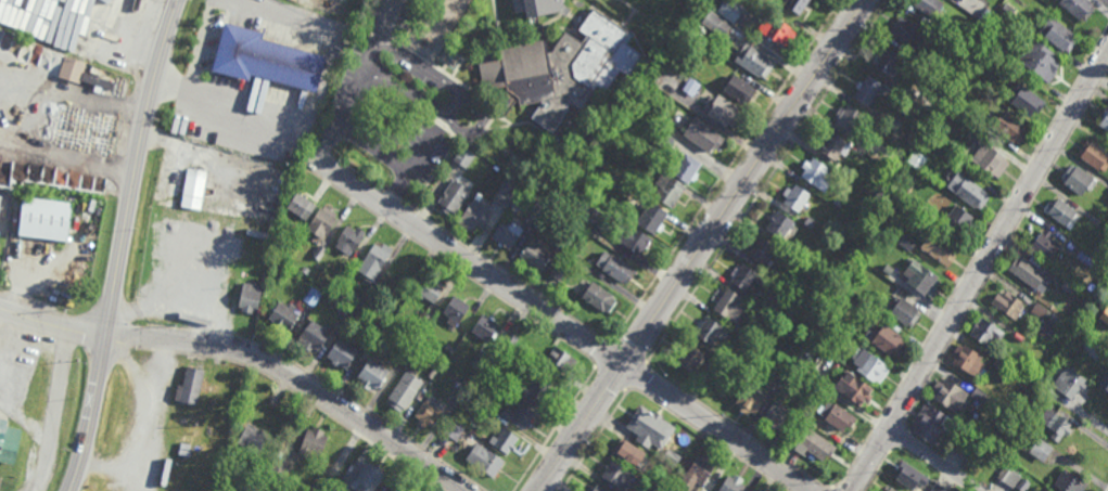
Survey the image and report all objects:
building: (797, 5)
building: (929, 7)
building: (544, 8)
building: (971, 8)
building: (1078, 8)
building: (730, 10)
building: (1008, 10)
road: (284, 13)
building: (73, 23)
building: (695, 24)
building: (716, 24)
building: (775, 29)
building: (909, 33)
building: (948, 33)
building: (1059, 35)
road: (200, 44)
building: (266, 59)
building: (884, 60)
building: (355, 61)
building: (754, 61)
building: (1040, 61)
building: (935, 68)
building: (72, 69)
building: (561, 69)
building: (98, 80)
road: (355, 80)
building: (690, 86)
building: (646, 88)
building: (739, 88)
building: (866, 89)
building: (924, 100)
building: (1024, 100)
road: (222, 106)
building: (719, 107)
road: (483, 119)
building: (851, 119)
building: (1105, 119)
road: (59, 122)
building: (894, 125)
building: (1008, 127)
building: (702, 133)
building: (664, 140)
road: (187, 145)
building: (833, 145)
building: (1093, 155)
building: (464, 158)
building: (917, 159)
building: (989, 159)
road: (398, 164)
building: (685, 167)
building: (843, 168)
road: (728, 170)
building: (816, 173)
building: (1079, 177)
building: (614, 181)
road: (768, 181)
building: (195, 183)
road: (397, 188)
building: (668, 189)
building: (968, 189)
building: (507, 191)
building: (559, 192)
building: (454, 197)
building: (795, 197)
building: (0, 201)
building: (301, 206)
building: (538, 210)
building: (1062, 210)
building: (926, 211)
building: (475, 216)
building: (958, 217)
building: (46, 218)
building: (651, 218)
building: (810, 221)
building: (322, 222)
building: (779, 224)
building: (272, 227)
building: (610, 228)
building: (507, 232)
building: (563, 232)
building: (888, 240)
building: (906, 240)
building: (349, 241)
building: (1045, 243)
road: (122, 245)
road: (701, 245)
building: (938, 246)
building: (572, 249)
building: (761, 250)
building: (535, 253)
building: (867, 254)
building: (316, 256)
building: (1087, 256)
building: (374, 261)
building: (614, 266)
building: (1029, 268)
building: (558, 269)
building: (418, 272)
road: (980, 272)
building: (342, 274)
building: (744, 275)
building: (920, 275)
building: (1069, 285)
building: (430, 287)
building: (313, 295)
building: (250, 296)
building: (598, 296)
building: (842, 296)
road: (174, 297)
building: (356, 298)
building: (1008, 302)
building: (729, 303)
building: (772, 303)
building: (393, 308)
building: (455, 309)
building: (902, 309)
building: (1041, 309)
building: (358, 310)
building: (1105, 313)
building: (284, 314)
road: (52, 318)
building: (1054, 319)
building: (419, 320)
road: (572, 324)
building: (485, 327)
building: (708, 330)
building: (985, 330)
building: (315, 334)
building: (1019, 337)
building: (888, 338)
building: (509, 341)
building: (1092, 347)
building: (404, 348)
building: (448, 348)
building: (342, 352)
road: (604, 353)
building: (690, 358)
building: (560, 359)
building: (969, 359)
building: (479, 360)
building: (868, 363)
building: (999, 364)
building: (715, 367)
building: (433, 371)
building: (777, 371)
building: (372, 374)
road: (637, 376)
road: (300, 377)
building: (1105, 380)
building: (1067, 383)
building: (191, 385)
building: (853, 386)
building: (462, 388)
building: (405, 390)
building: (535, 391)
building: (951, 393)
building: (980, 395)
building: (750, 399)
building: (255, 403)
building: (235, 405)
road: (52, 408)
building: (430, 411)
building: (837, 414)
building: (485, 415)
building: (518, 415)
building: (807, 415)
building: (776, 416)
building: (930, 422)
building: (1056, 423)
building: (650, 427)
building: (451, 430)
building: (253, 437)
building: (9, 440)
building: (504, 440)
building: (313, 442)
building: (814, 443)
building: (1041, 448)
building: (628, 455)
building: (671, 456)
road: (934, 460)
building: (489, 462)
building: (277, 470)
building: (697, 471)
building: (909, 474)
building: (617, 475)
building: (1009, 475)
building: (368, 477)
building: (1071, 481)
building: (668, 483)
building: (733, 483)
building: (400, 487)
building: (889, 488)
building: (939, 488)
building: (339, 489)
building: (597, 489)

